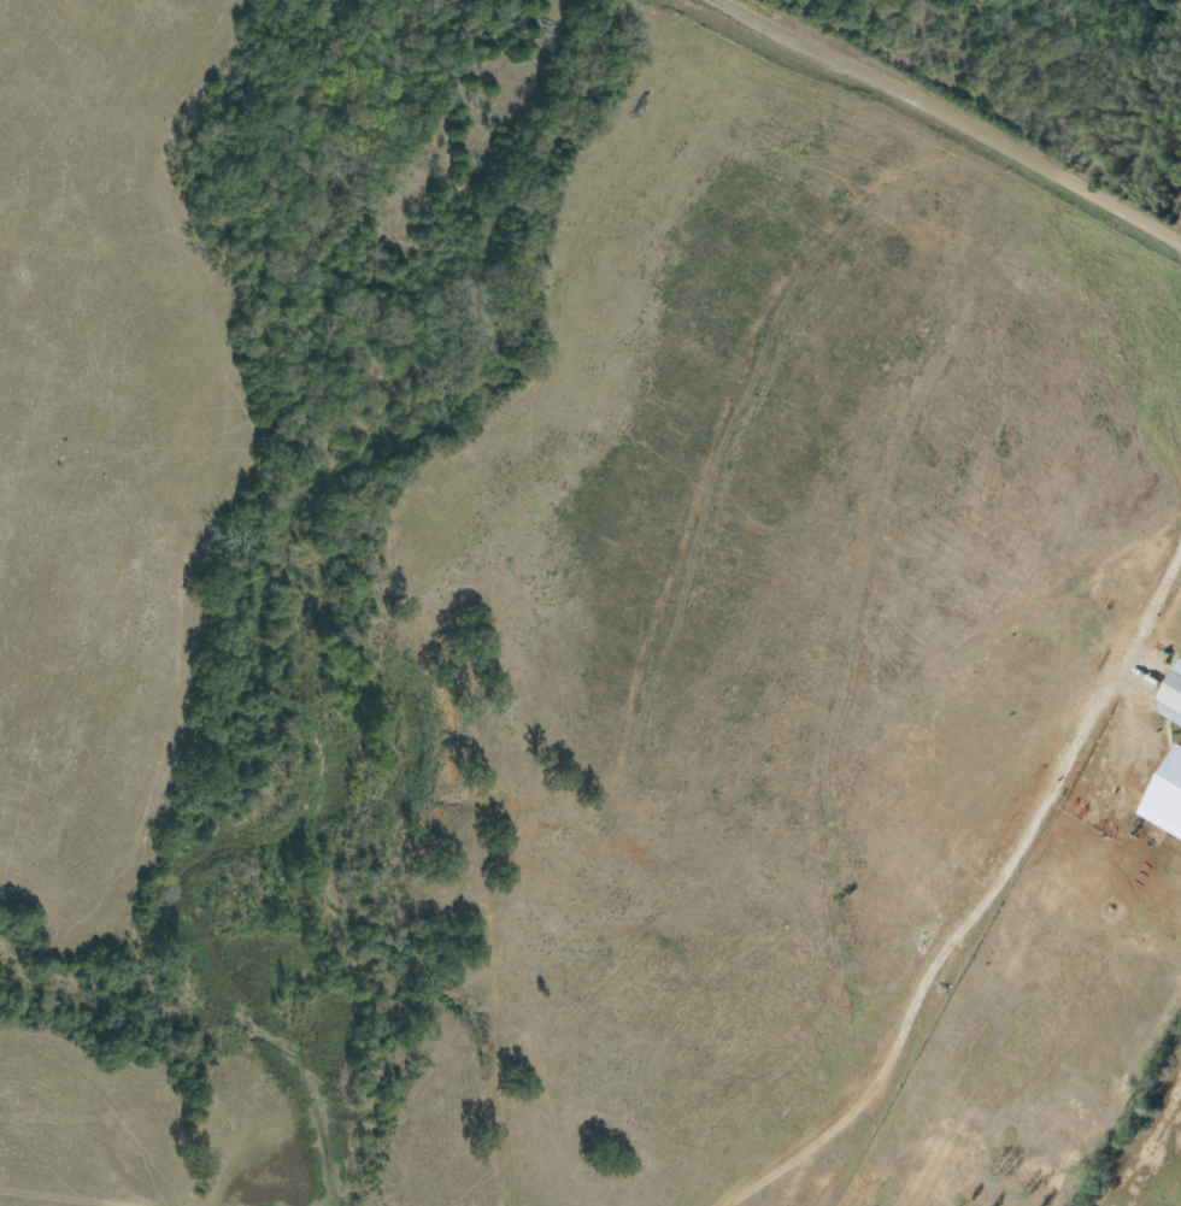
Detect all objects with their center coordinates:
road: (958, 124)
building: (1169, 695)
building: (1164, 794)
road: (963, 889)

